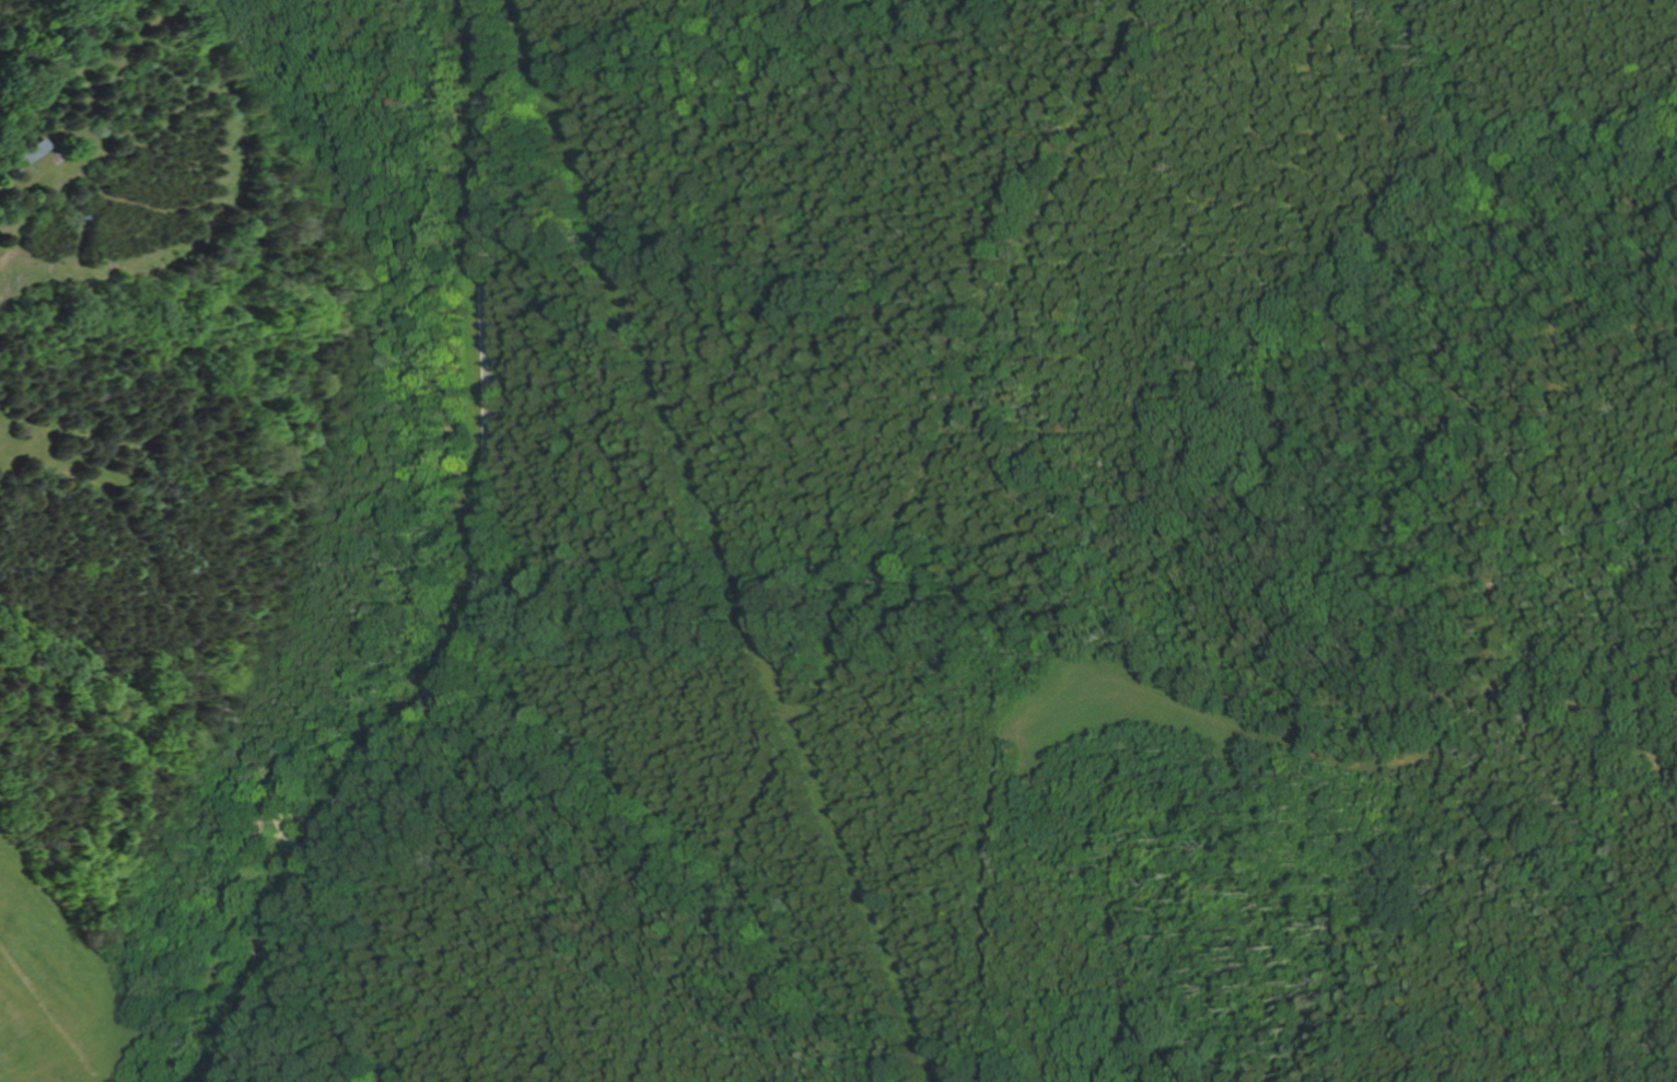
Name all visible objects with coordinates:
building: (30, 149)
road: (3, 190)
road: (48, 464)
road: (476, 573)
road: (193, 658)
road: (1180, 700)
road: (284, 834)
road: (296, 850)

